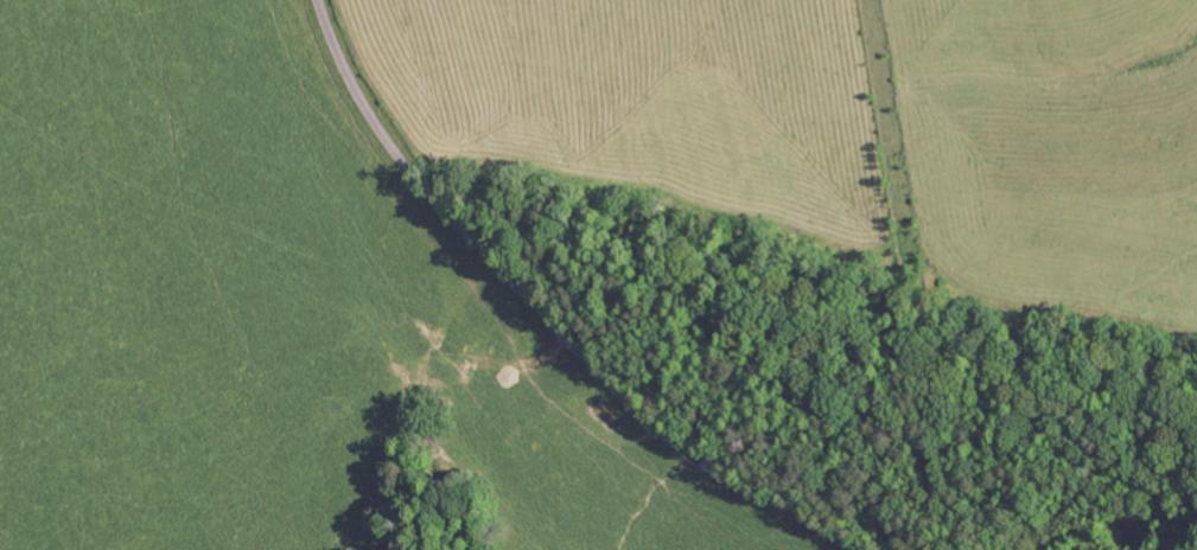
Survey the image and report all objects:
road: (541, 313)

